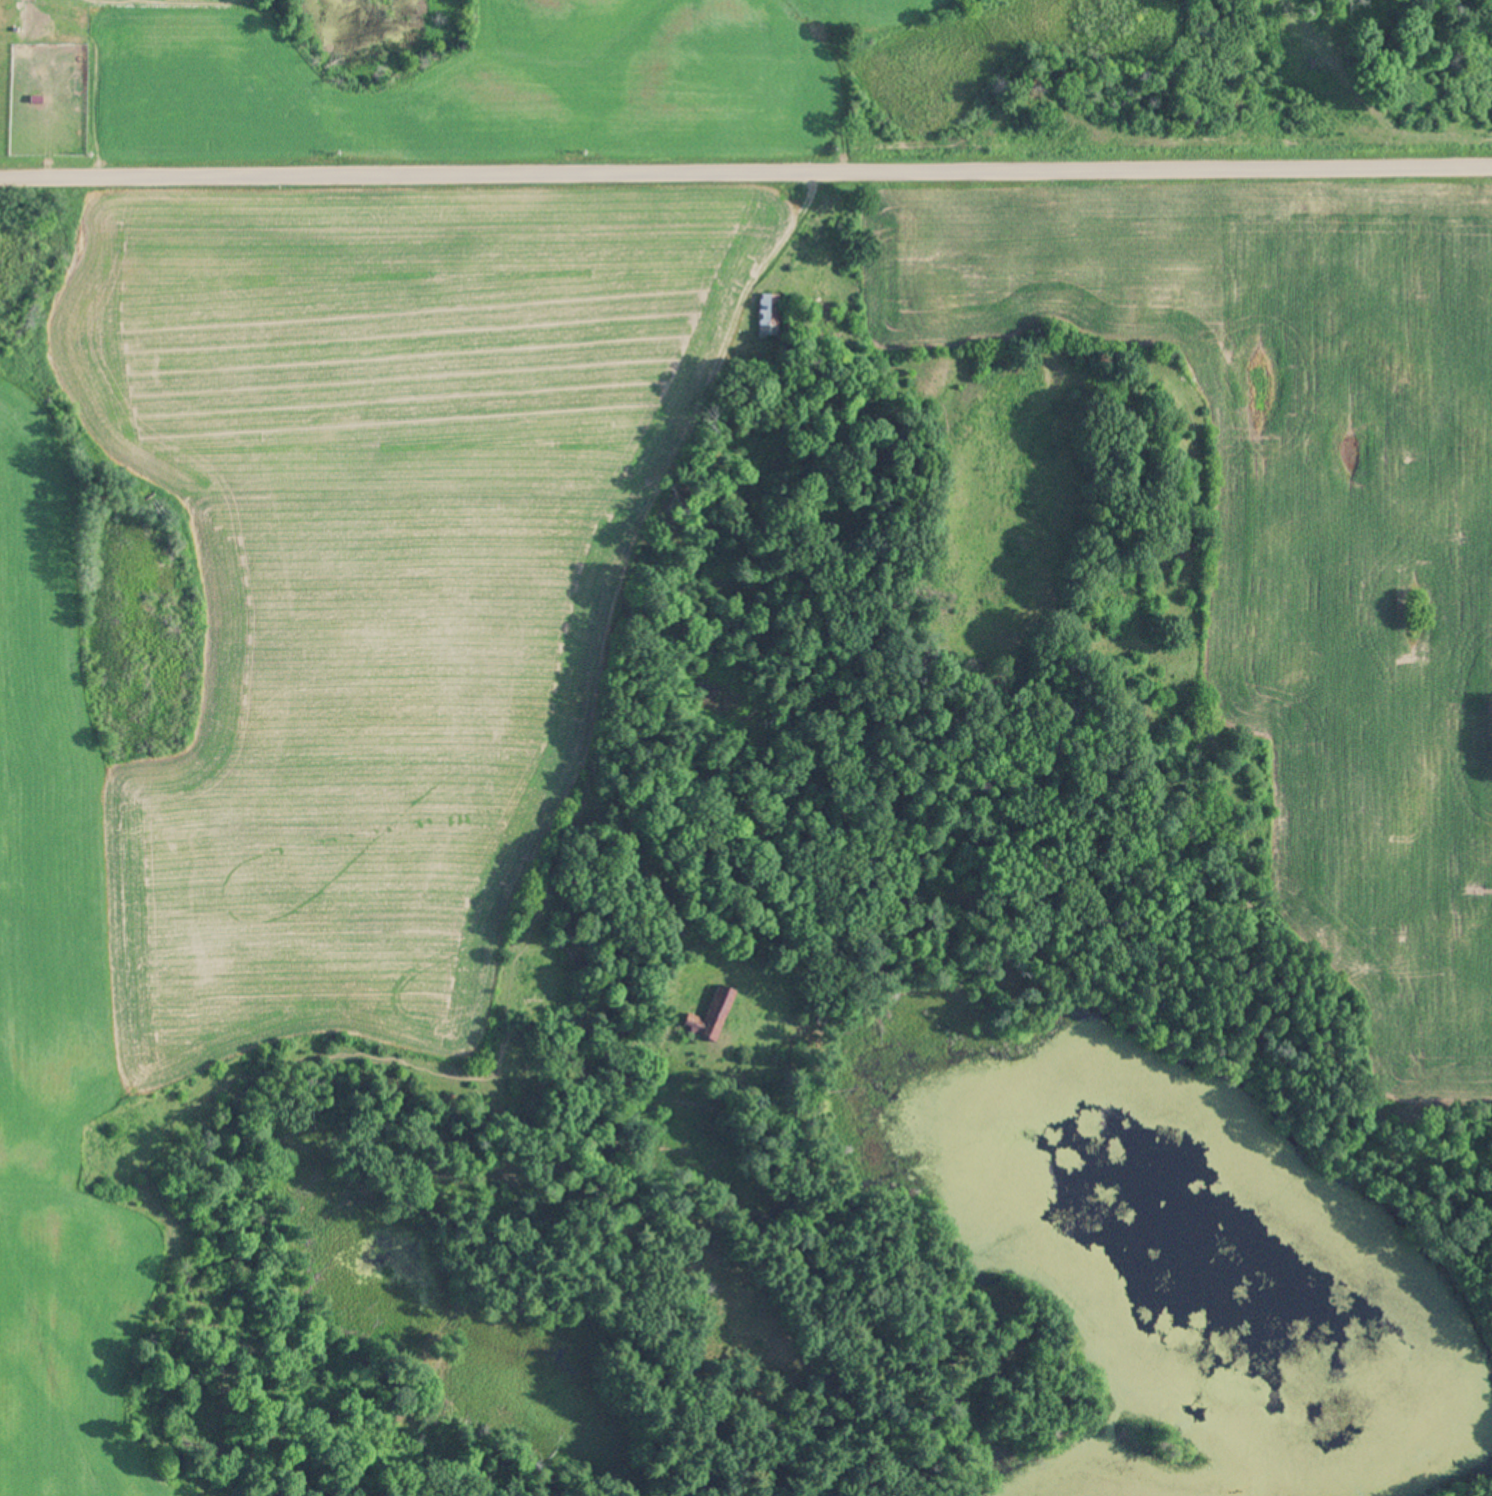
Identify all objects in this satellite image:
road: (746, 185)
building: (770, 316)
building: (716, 1013)
quarry: (1035, 1460)

